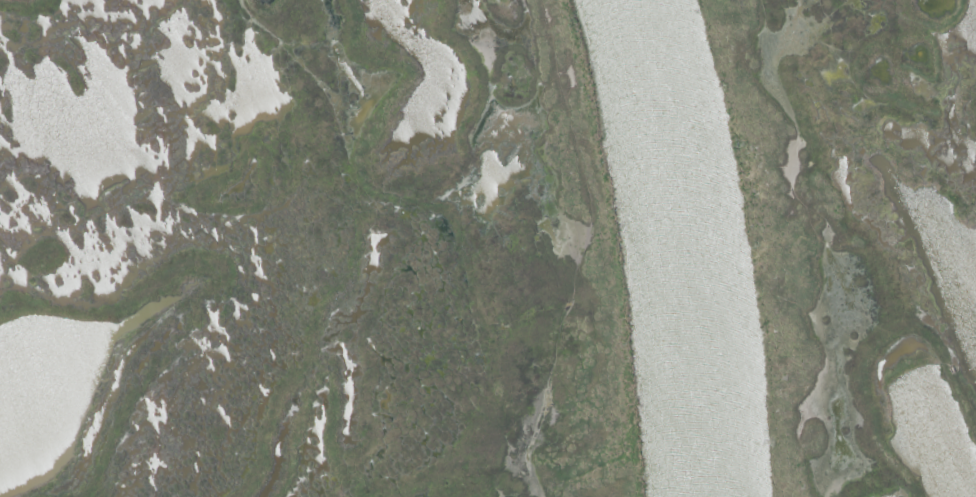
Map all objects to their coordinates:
river: (707, 242)

